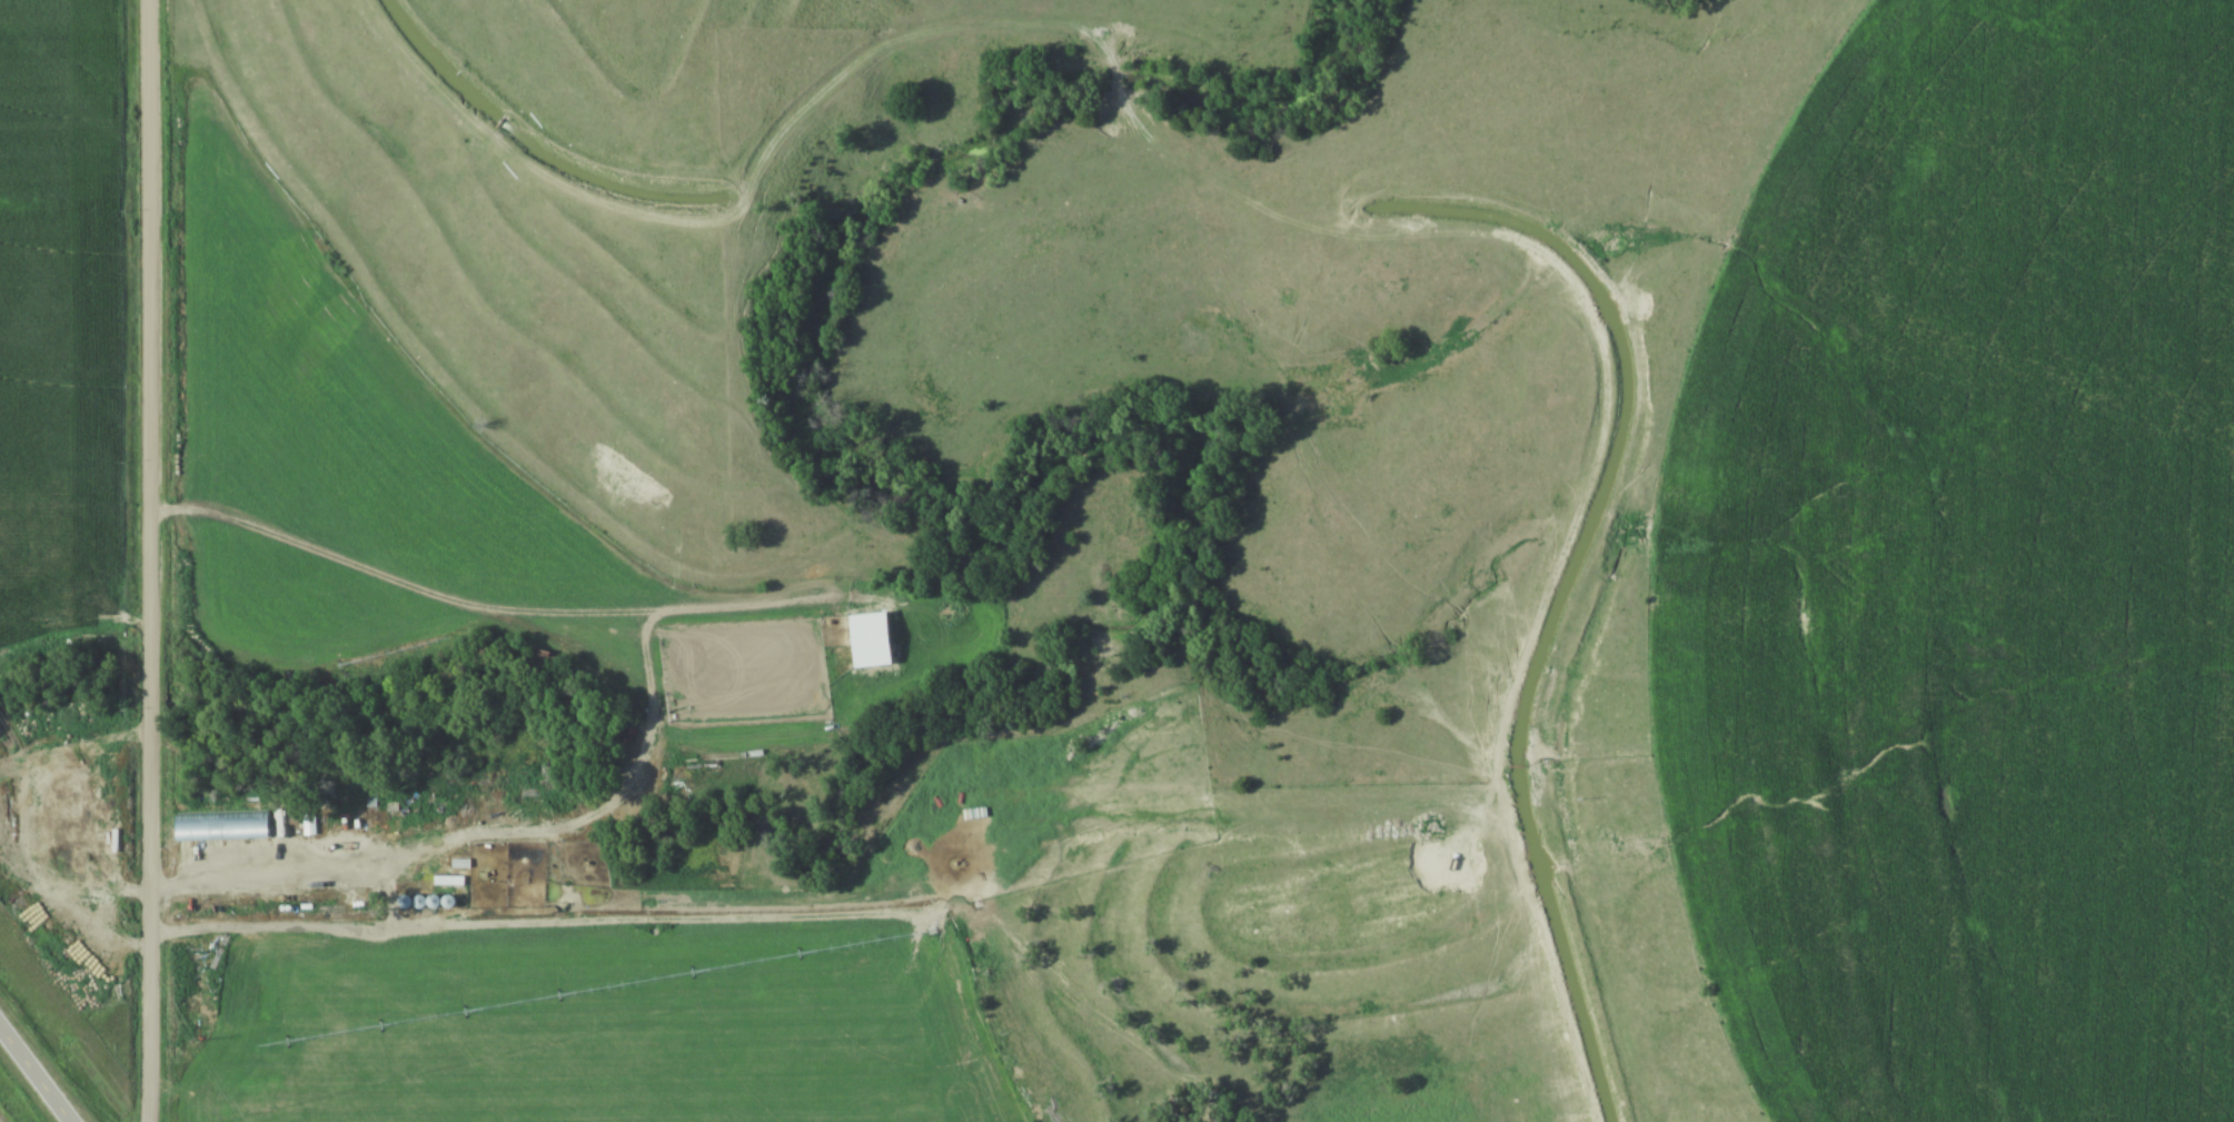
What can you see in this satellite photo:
road: (143, 560)
building: (311, 818)
building: (446, 903)
road: (315, 929)
road: (36, 1073)

